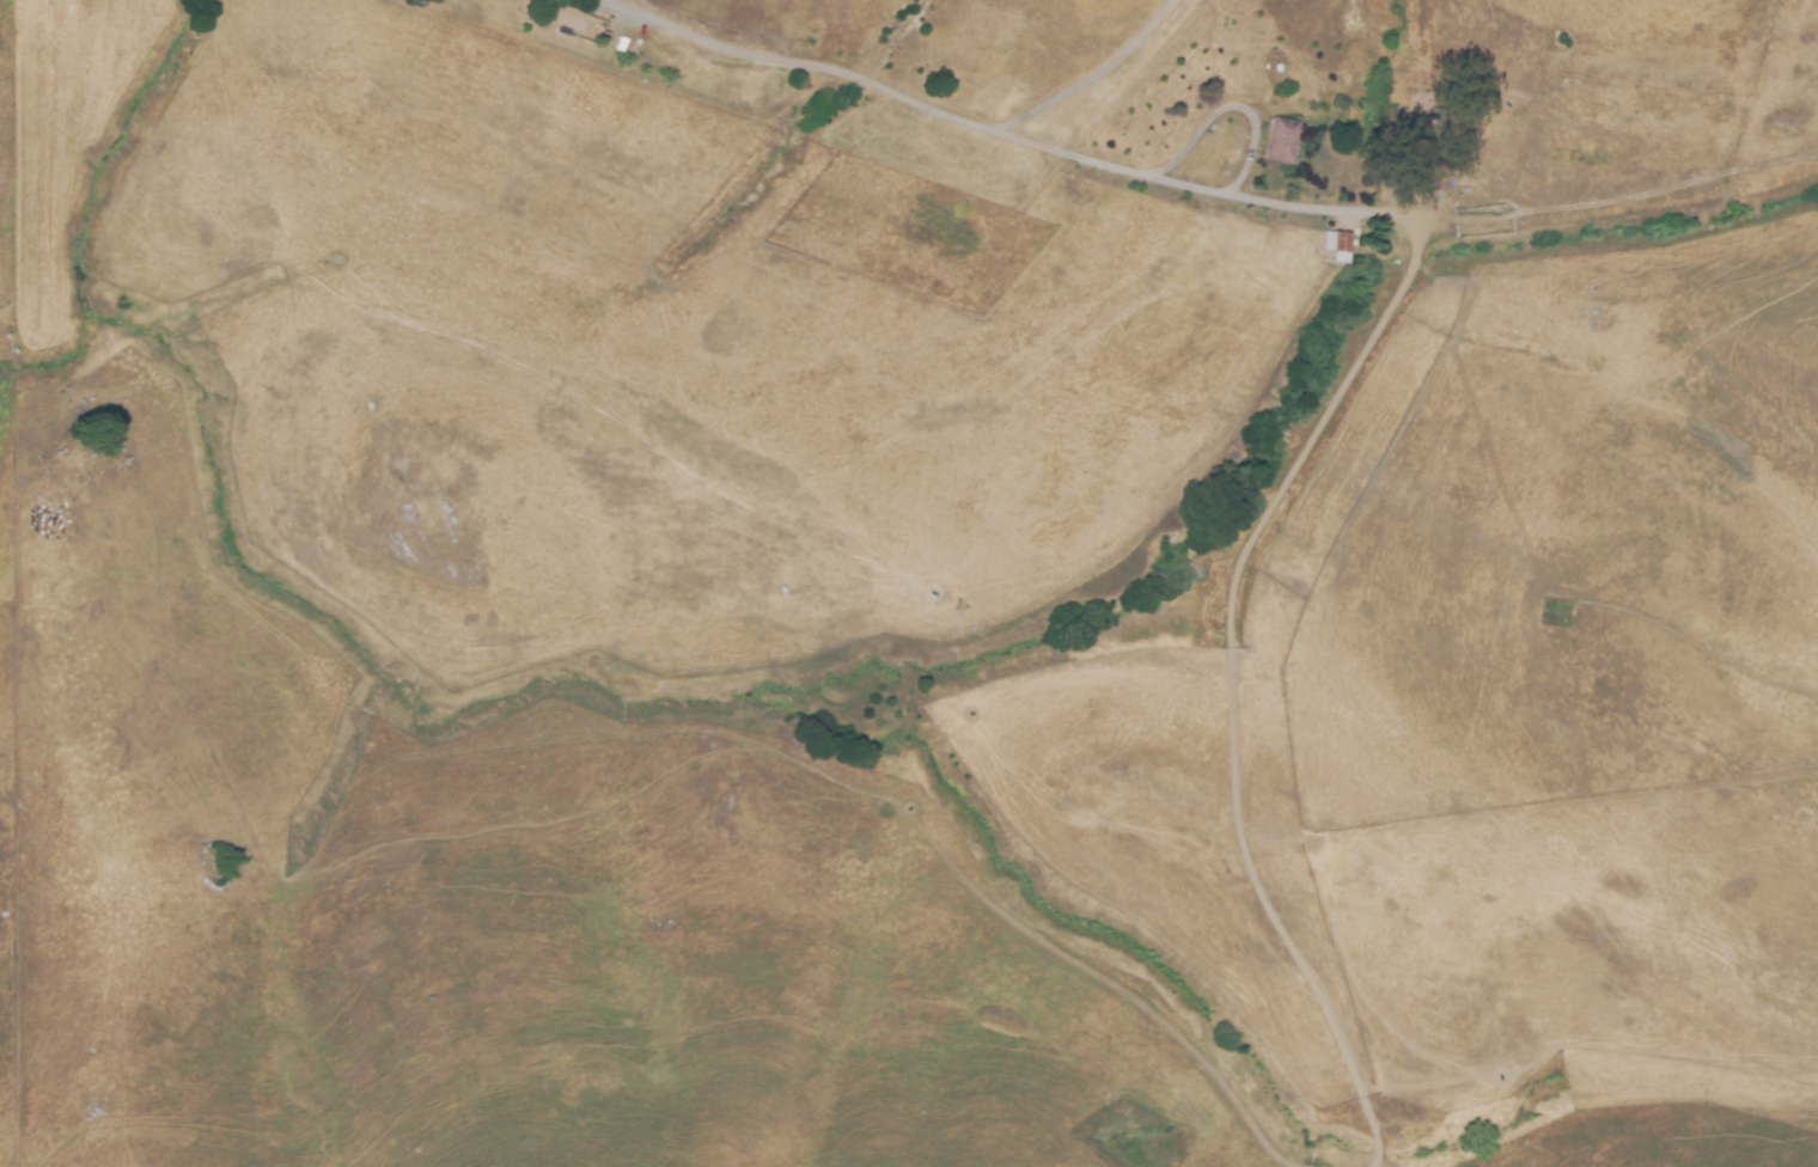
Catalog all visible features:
building: (567, 19)
park: (877, 72)
road: (907, 98)
road: (1231, 108)
building: (1432, 124)
building: (1281, 140)
road: (1170, 181)
building: (1341, 242)
building: (1334, 246)

